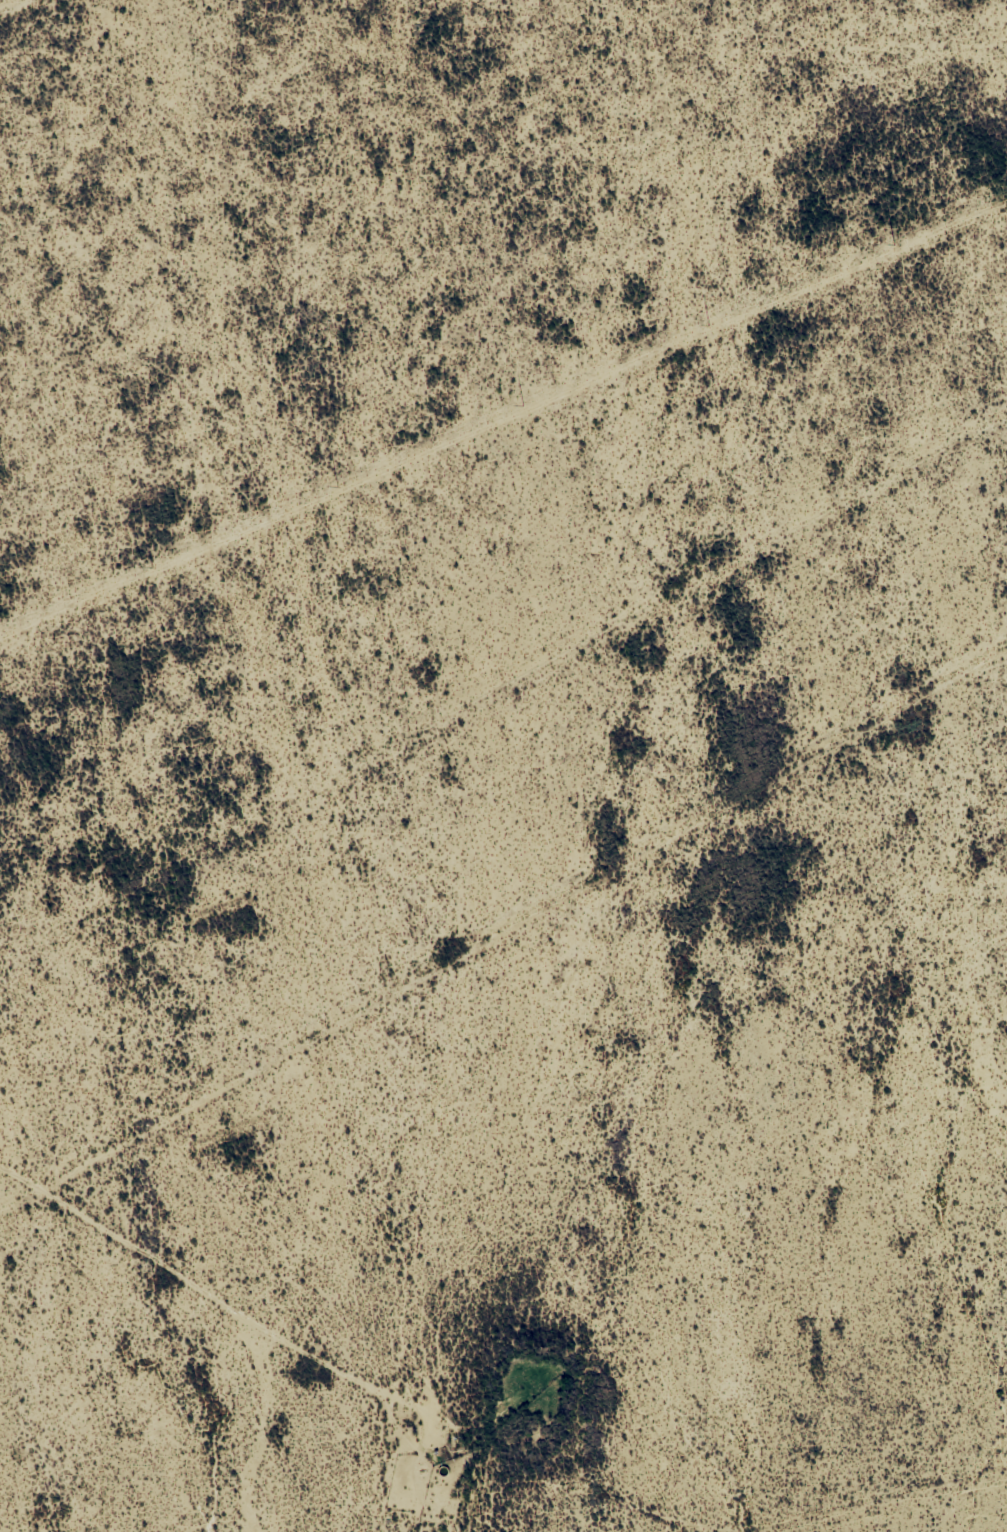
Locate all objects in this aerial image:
power tower: (894, 245)
power tower: (706, 327)
power tower: (521, 406)
power tower: (337, 487)
power tower: (151, 567)
road: (189, 1317)

